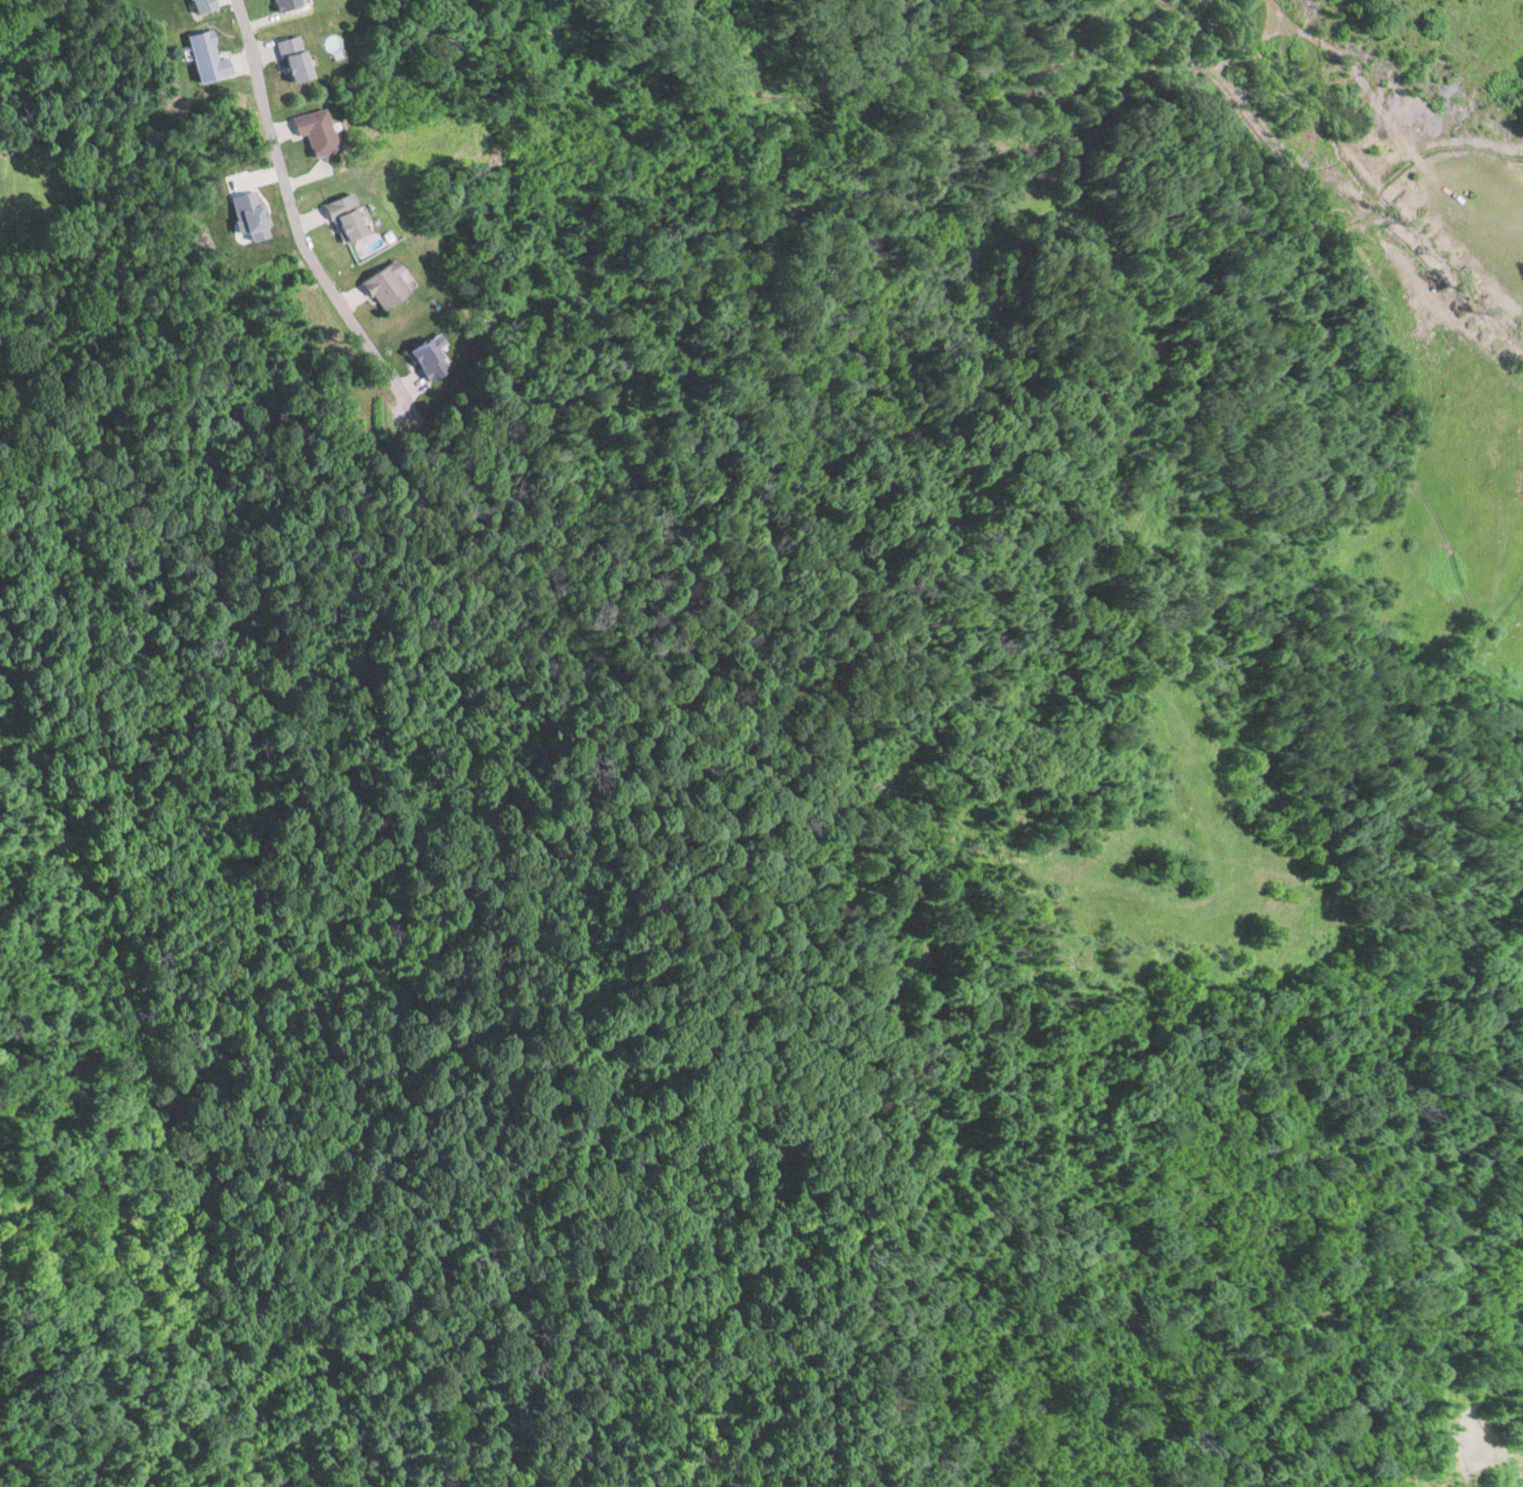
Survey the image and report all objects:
building: (287, 57)
building: (312, 130)
road: (290, 216)
building: (381, 283)
building: (428, 357)
building: (1522, 1486)

